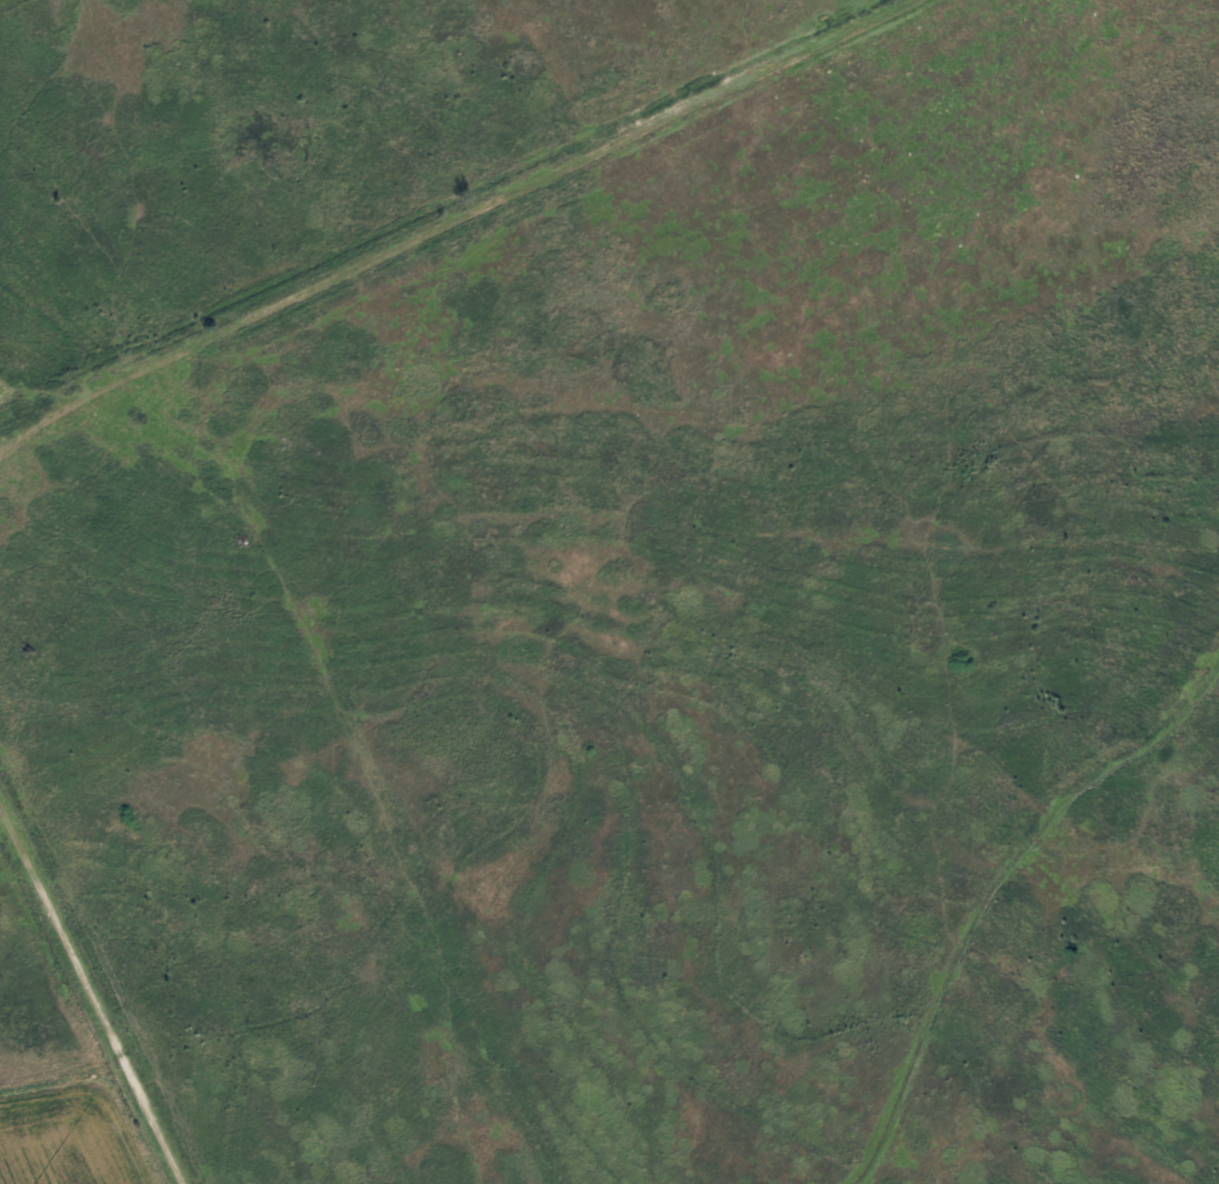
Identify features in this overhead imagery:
road: (95, 985)

